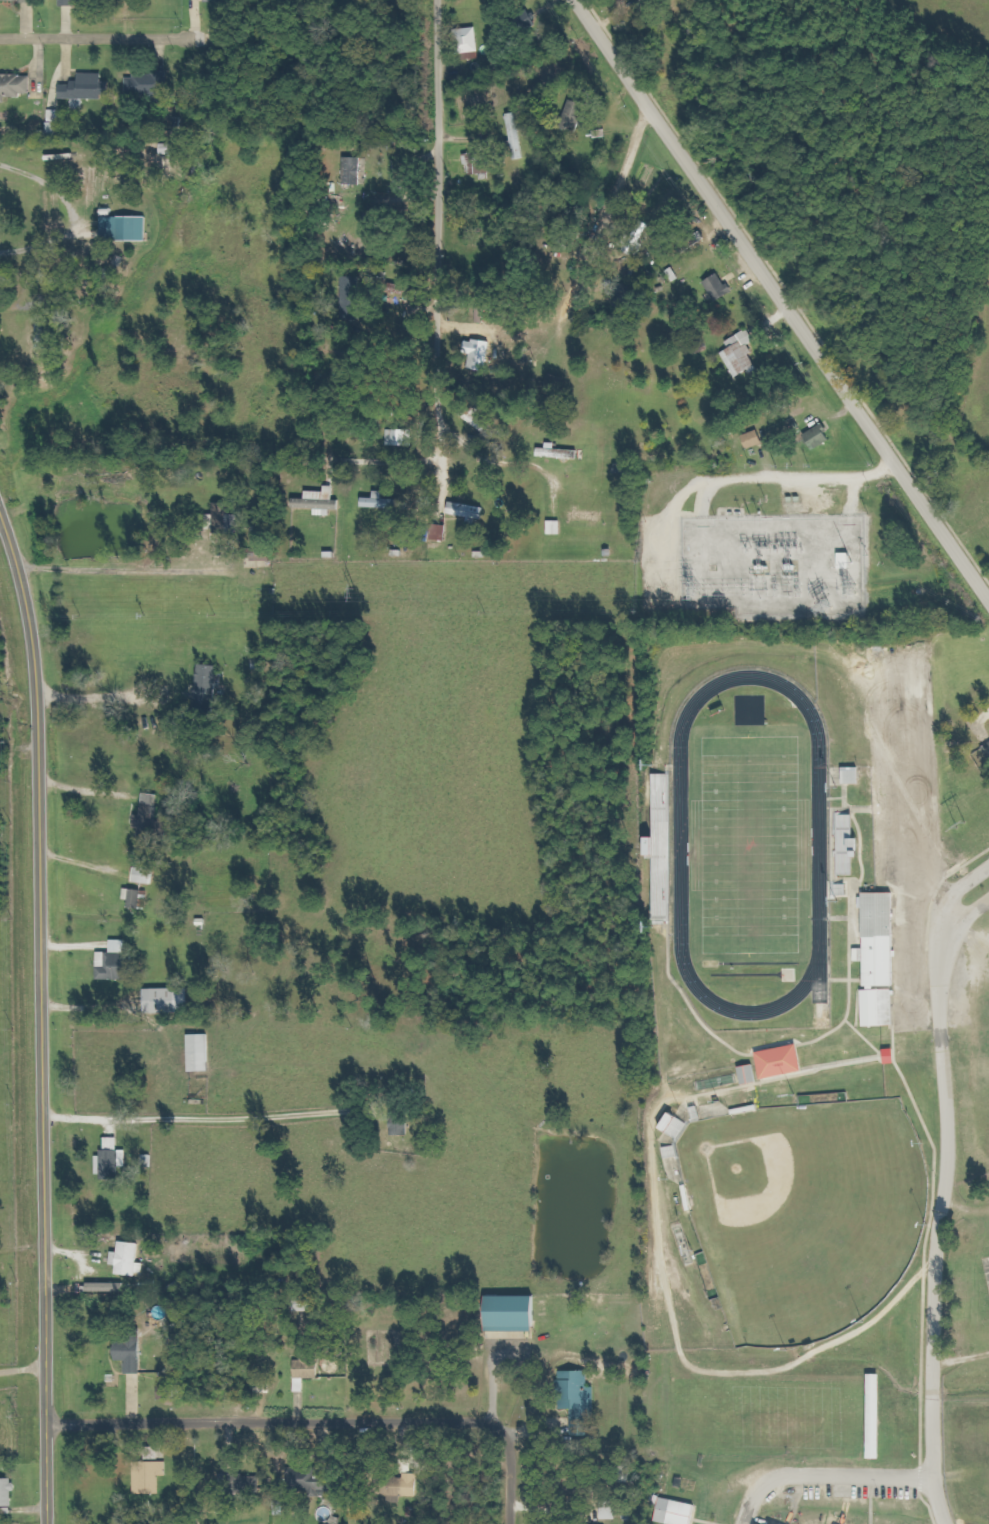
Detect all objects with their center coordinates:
building: (202, 0)
building: (17, 1)
building: (70, 3)
road: (97, 37)
building: (467, 41)
building: (154, 83)
building: (15, 85)
building: (86, 88)
building: (56, 118)
building: (352, 171)
road: (614, 188)
building: (129, 228)
road: (435, 279)
building: (352, 287)
building: (718, 287)
road: (781, 300)
building: (47, 333)
building: (741, 354)
building: (402, 437)
building: (818, 437)
building: (752, 440)
building: (555, 453)
building: (326, 494)
building: (388, 502)
building: (471, 510)
building: (328, 512)
building: (586, 518)
building: (845, 562)
power substation: (772, 566)
power tower: (705, 589)
power tower: (854, 589)
power tower: (364, 594)
power tower: (834, 606)
building: (210, 687)
building: (987, 746)
building: (856, 775)
building: (152, 814)
power tower: (962, 824)
building: (666, 826)
track: (748, 844)
track: (679, 845)
building: (148, 876)
building: (136, 897)
road: (963, 926)
building: (883, 939)
building: (171, 1000)
building: (882, 1008)
road: (40, 1018)
building: (203, 1053)
building: (895, 1056)
building: (785, 1062)
building: (751, 1075)
building: (115, 1160)
road: (943, 1184)
park: (803, 1214)
building: (131, 1259)
building: (109, 1288)
building: (519, 1314)
building: (133, 1356)
building: (311, 1369)
building: (172, 1392)
building: (580, 1400)
road: (319, 1422)
road: (828, 1475)
building: (152, 1477)
building: (312, 1481)
building: (239, 1484)
building: (403, 1486)
building: (9, 1493)
building: (608, 1510)
building: (675, 1512)
building: (756, 1523)

